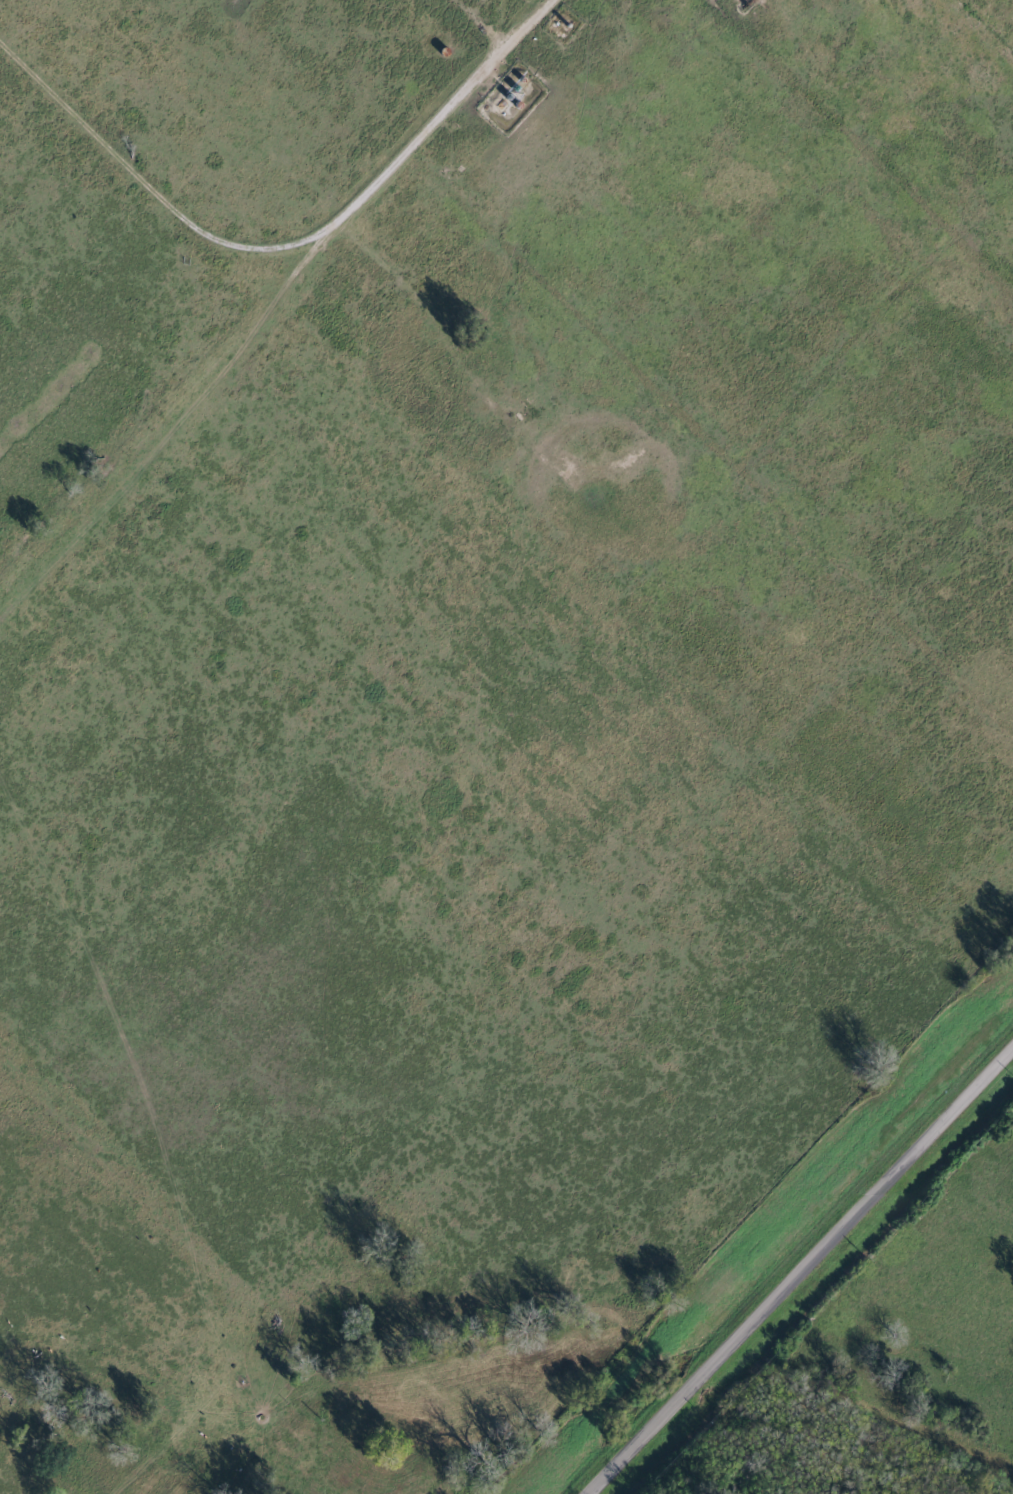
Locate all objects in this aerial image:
road: (437, 116)
road: (173, 425)
road: (801, 1274)

